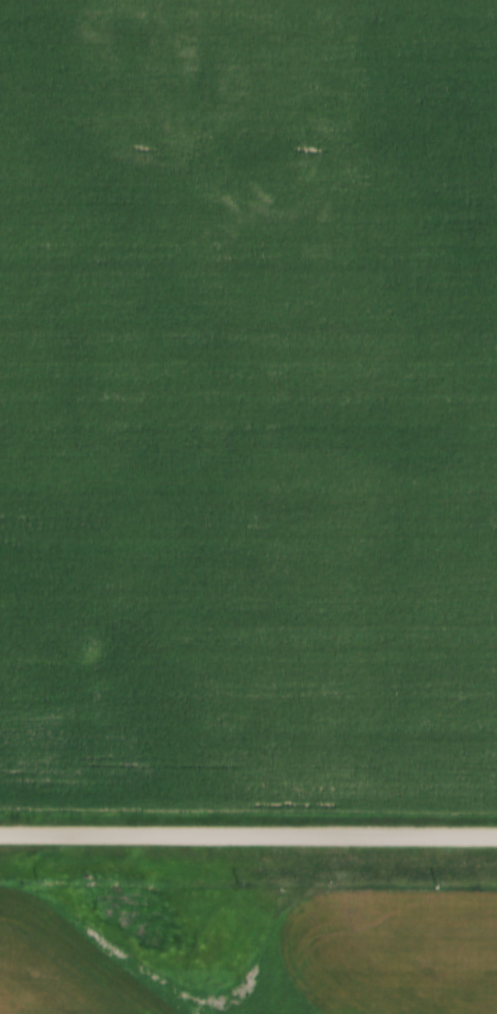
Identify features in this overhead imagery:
road: (248, 831)

